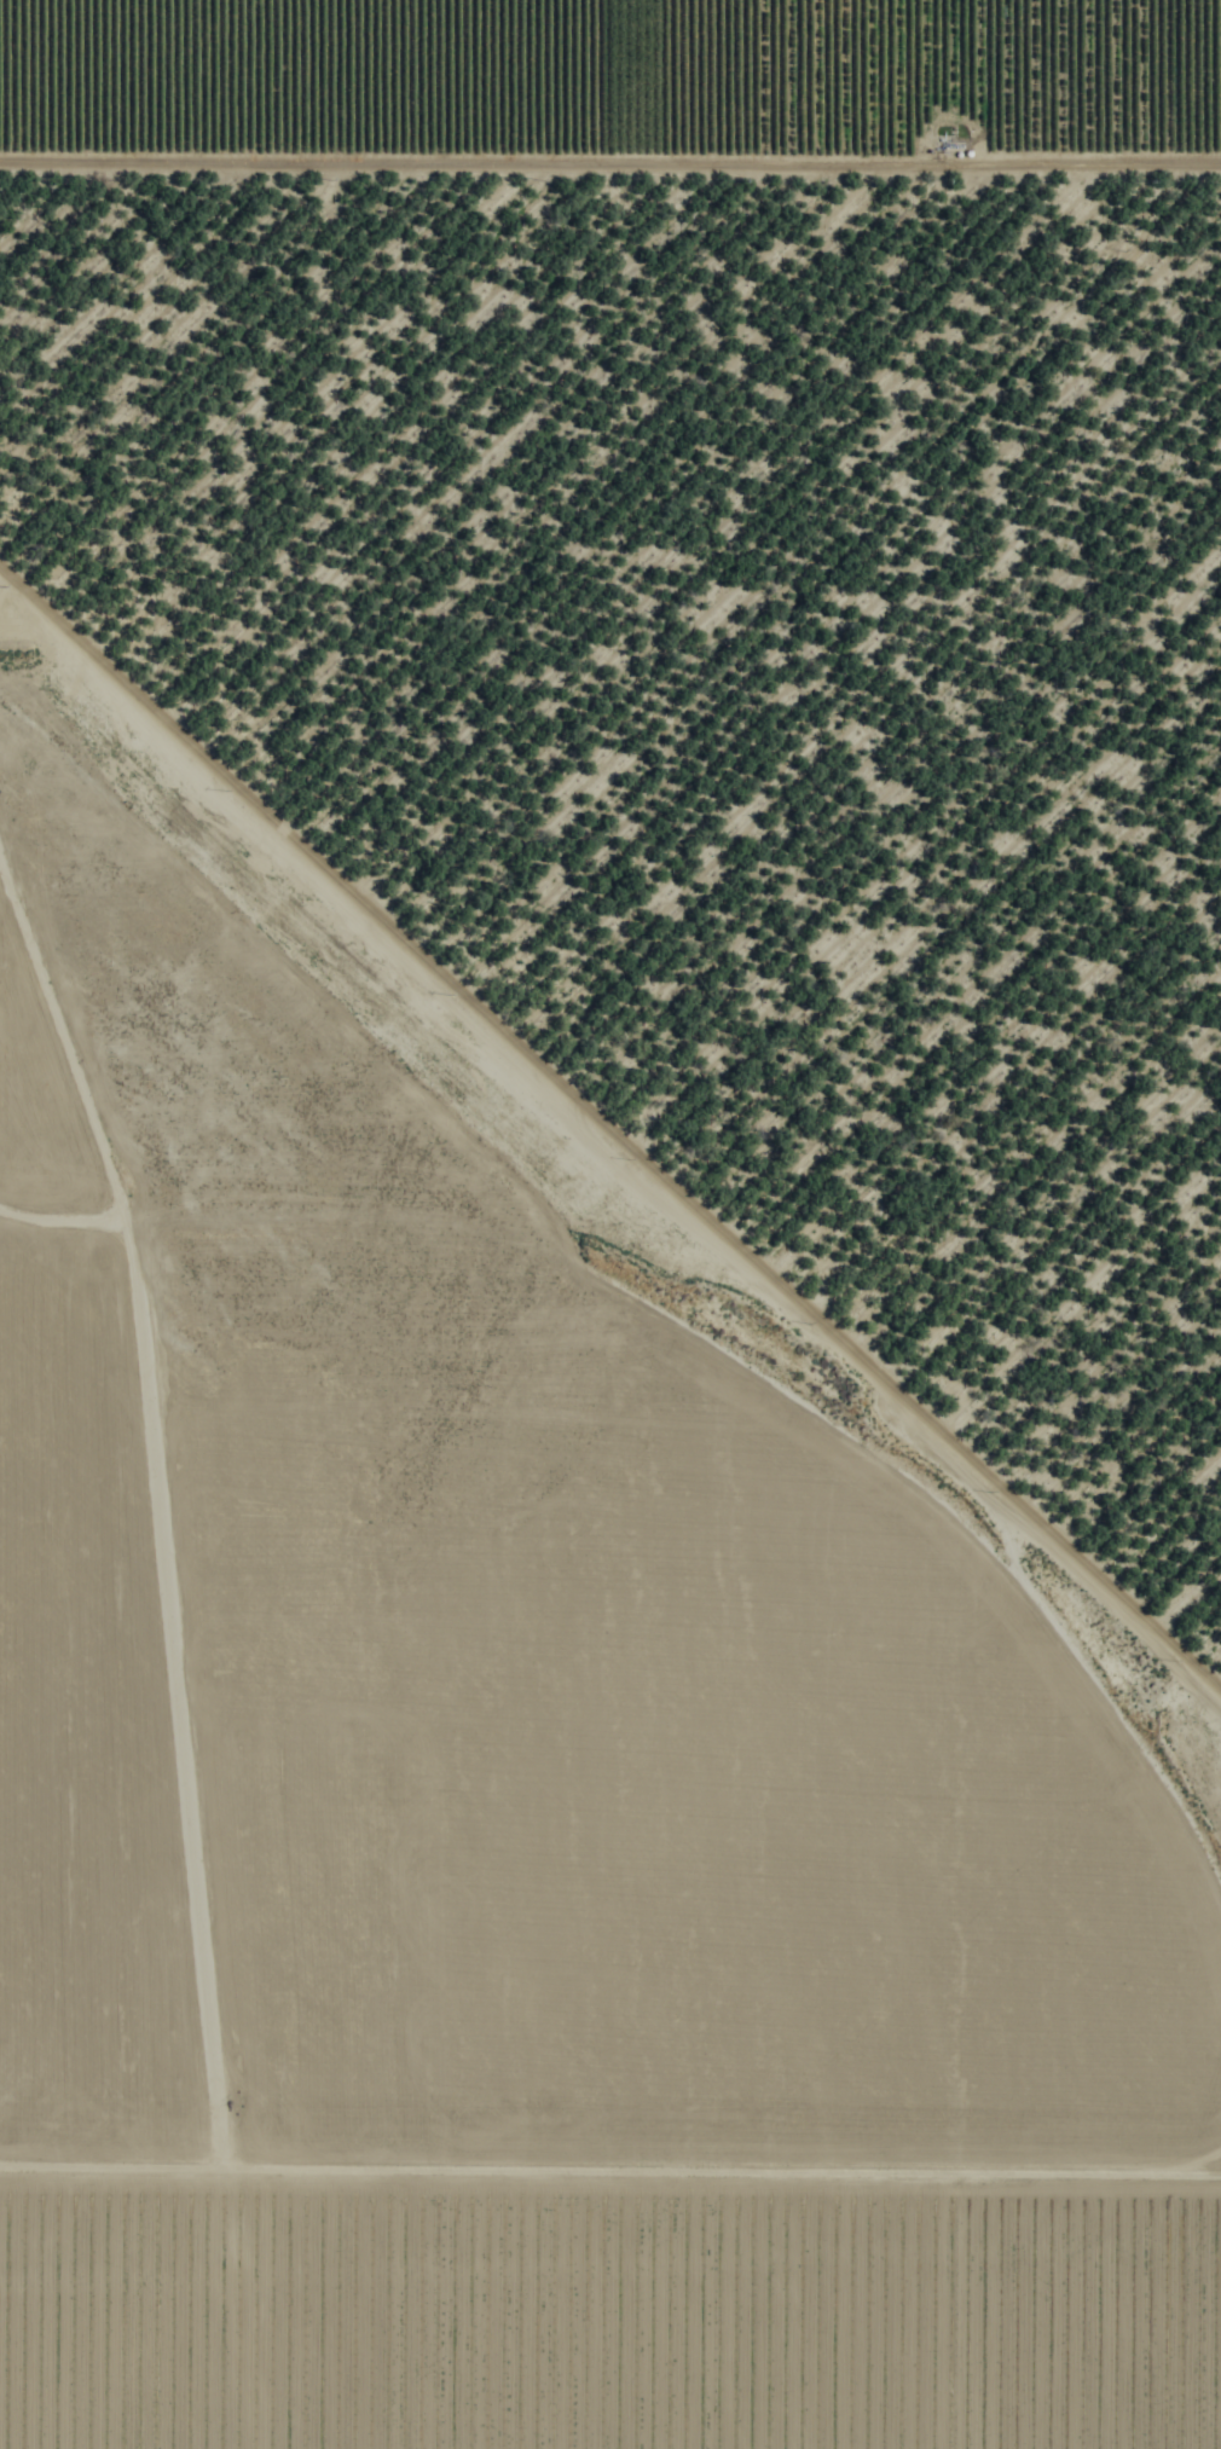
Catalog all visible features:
crop: (612, 86)
road: (610, 139)
crop: (563, 1851)

